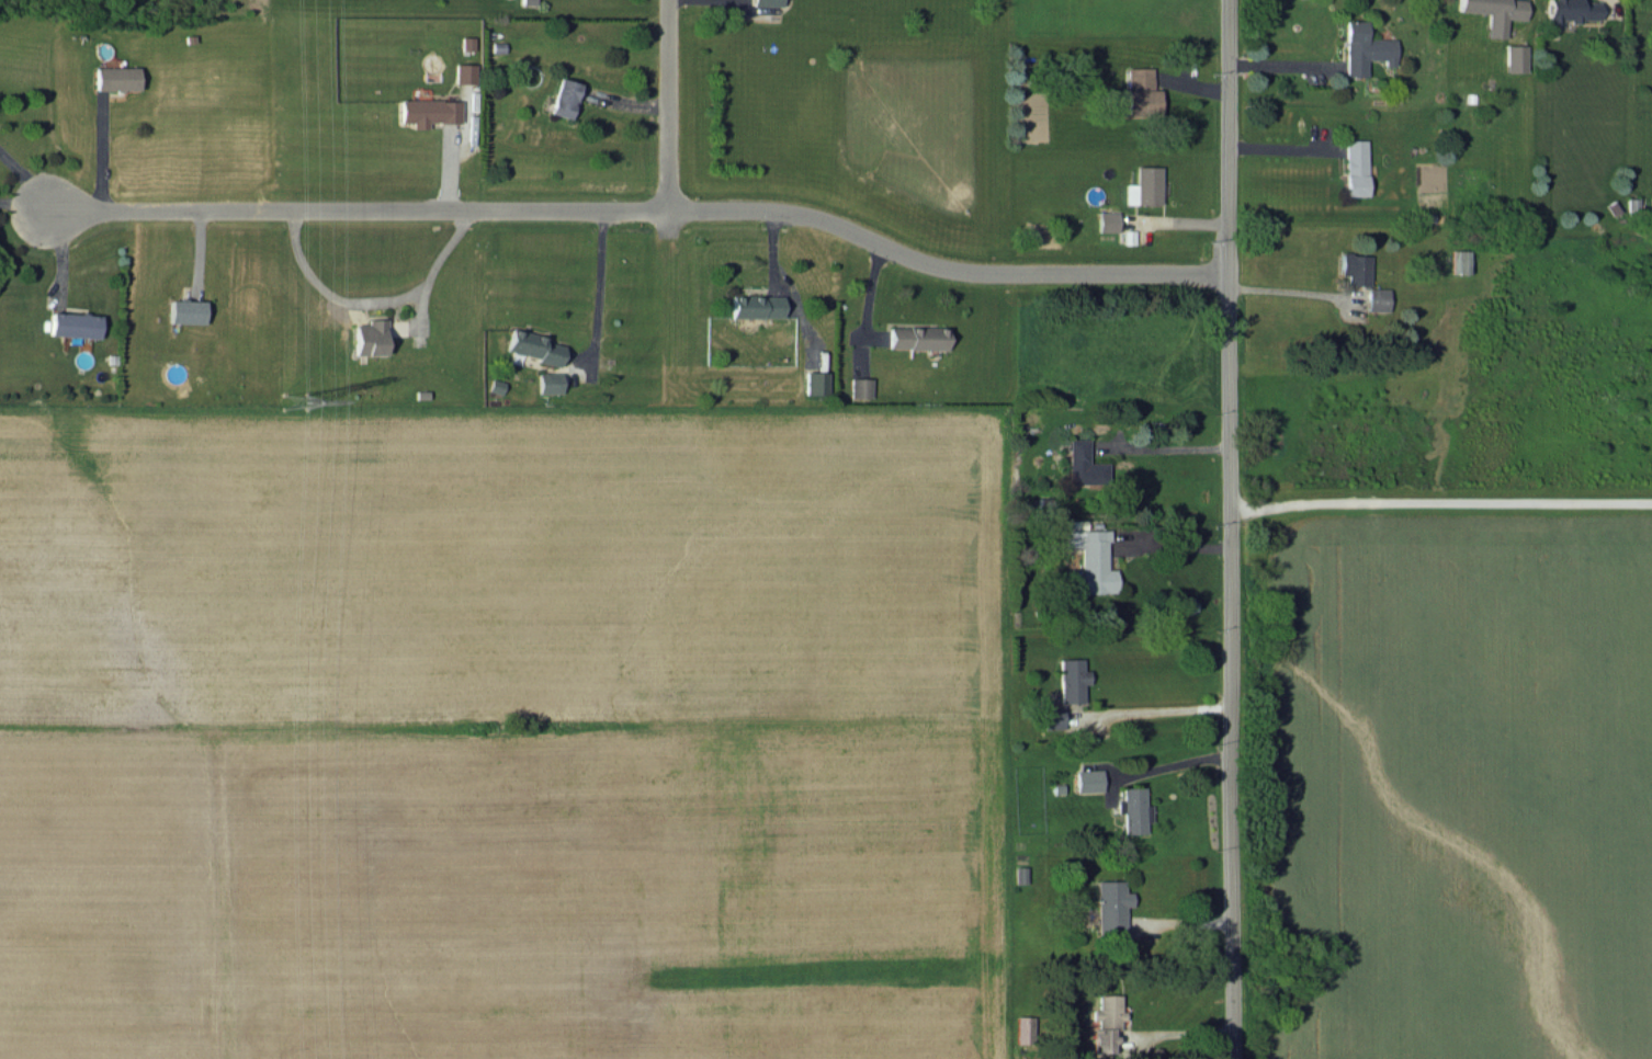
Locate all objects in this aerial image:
building: (765, 2)
building: (1569, 10)
building: (1492, 12)
building: (1362, 48)
building: (1513, 57)
building: (464, 72)
building: (116, 77)
building: (1140, 91)
building: (563, 96)
road: (672, 105)
building: (428, 111)
road: (101, 151)
building: (1354, 167)
road: (23, 182)
building: (1142, 185)
road: (640, 210)
building: (1106, 220)
building: (1459, 261)
building: (1354, 267)
road: (601, 293)
road: (1279, 293)
building: (1376, 298)
road: (371, 301)
building: (756, 305)
building: (184, 310)
building: (72, 323)
building: (369, 337)
building: (917, 337)
building: (534, 345)
building: (550, 382)
building: (816, 382)
building: (860, 386)
power tower: (293, 400)
road: (1156, 449)
building: (1083, 463)
road: (1440, 501)
road: (1231, 528)
road: (1174, 547)
building: (1093, 559)
building: (1072, 679)
road: (1164, 713)
building: (1053, 716)
road: (1173, 765)
building: (1087, 779)
building: (1134, 810)
building: (1110, 903)
building: (1107, 1022)
building: (1025, 1028)

